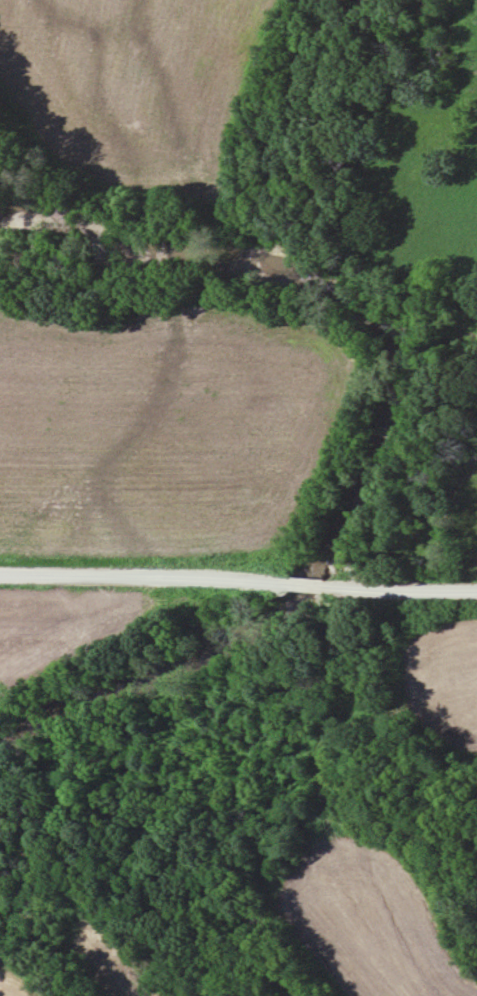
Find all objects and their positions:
river: (392, 431)
road: (132, 575)
road: (308, 582)
road: (414, 587)

